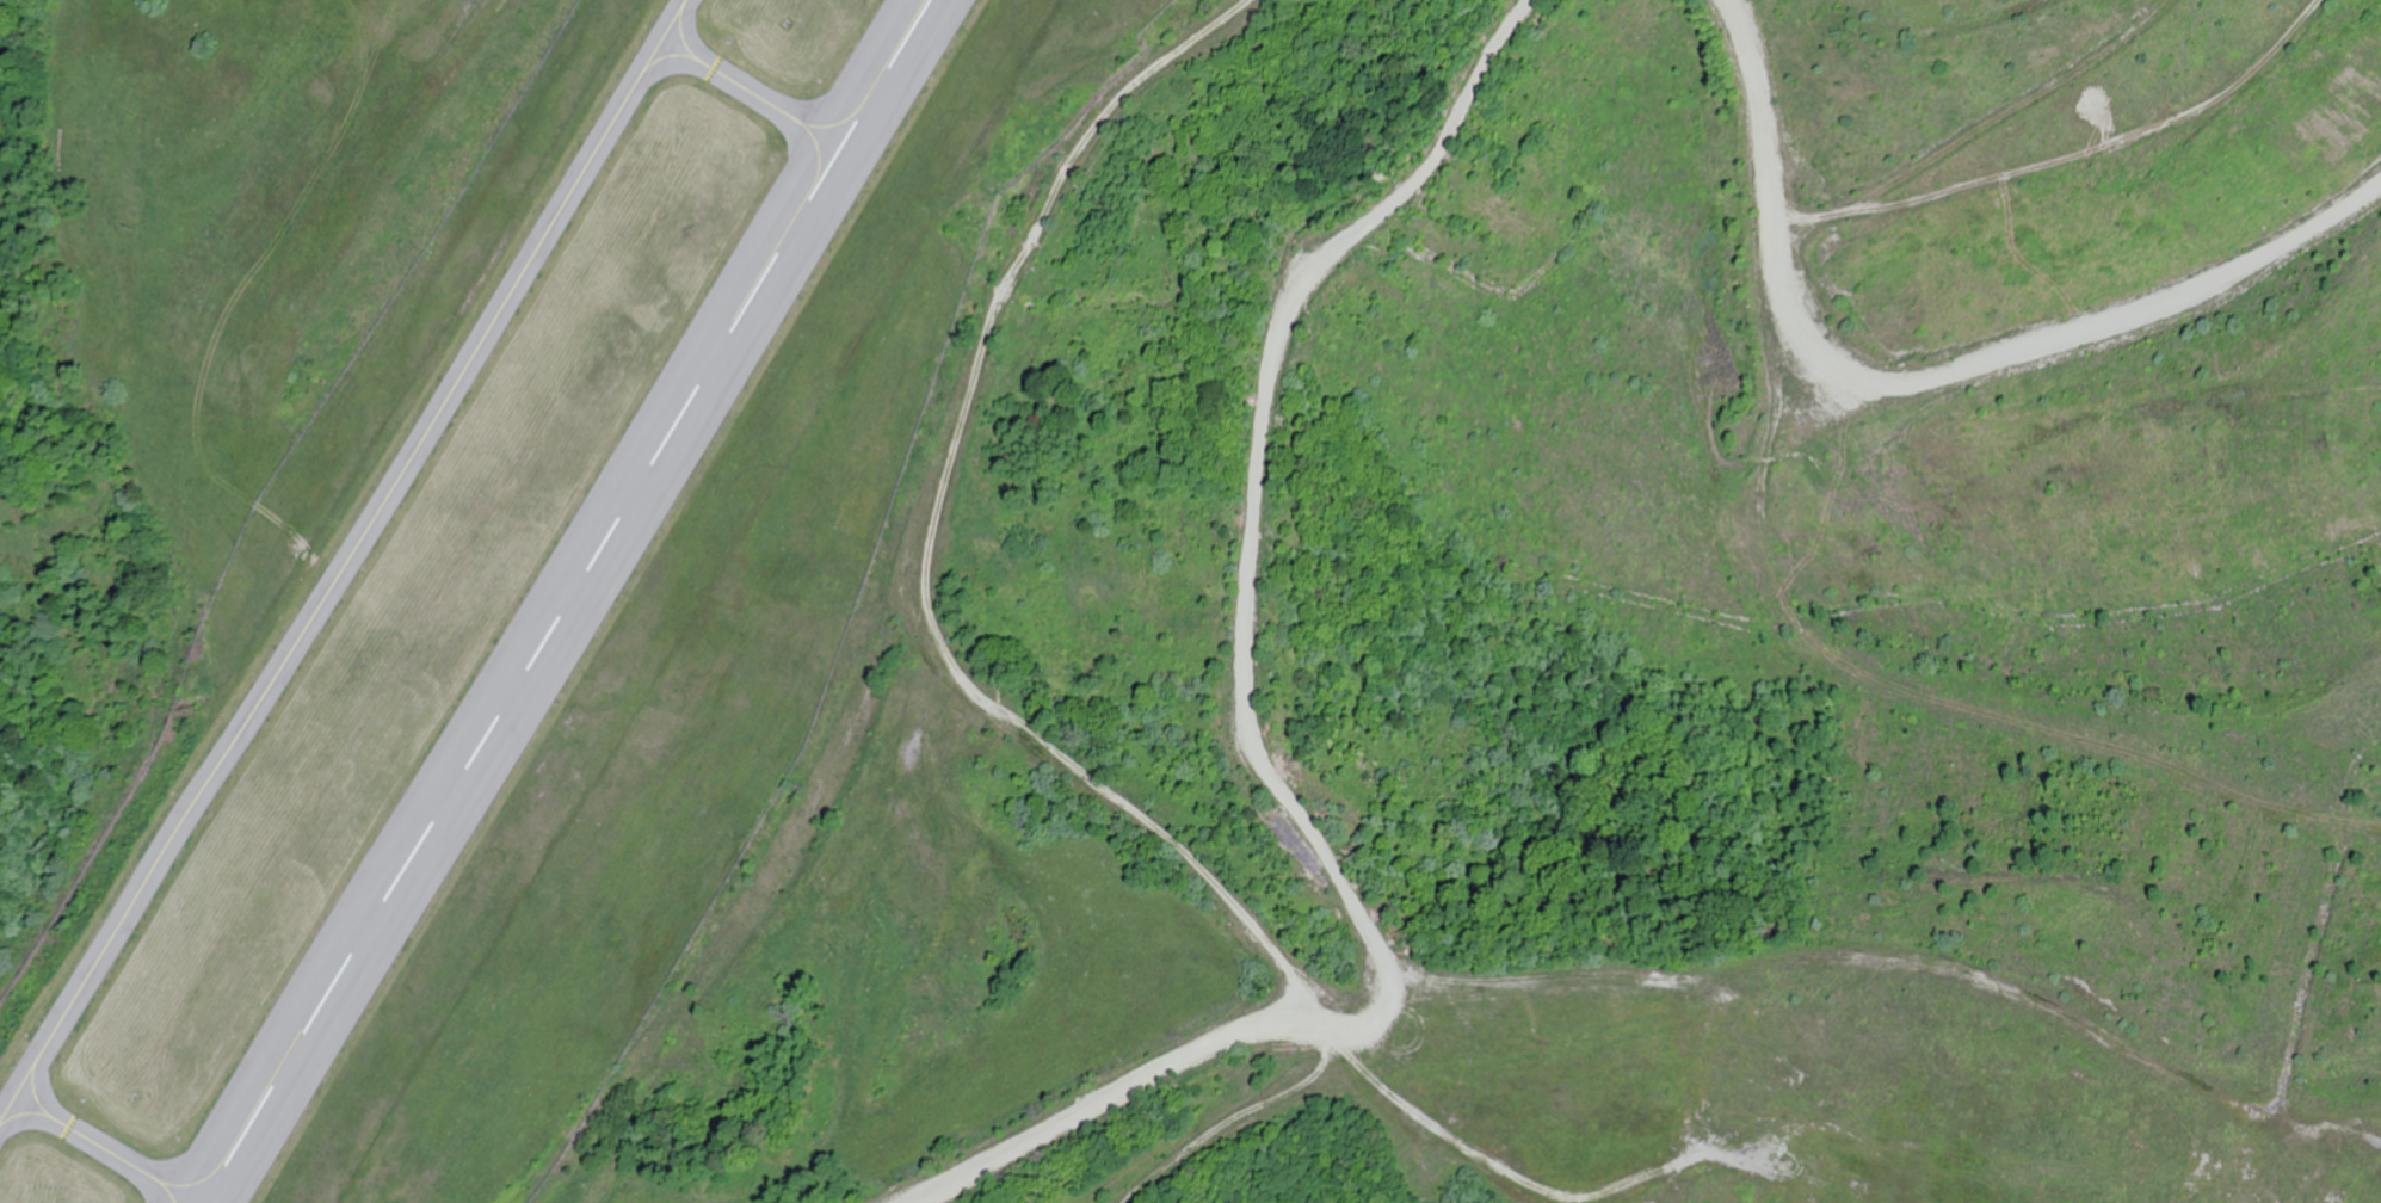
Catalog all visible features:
airport taxiway: (750, 90)
airport taxiway: (340, 566)
airport runway: (565, 600)
airport: (533, 609)
building: (1567, 1005)
quarry: (2133, 1032)
airport taxiway: (113, 1148)

